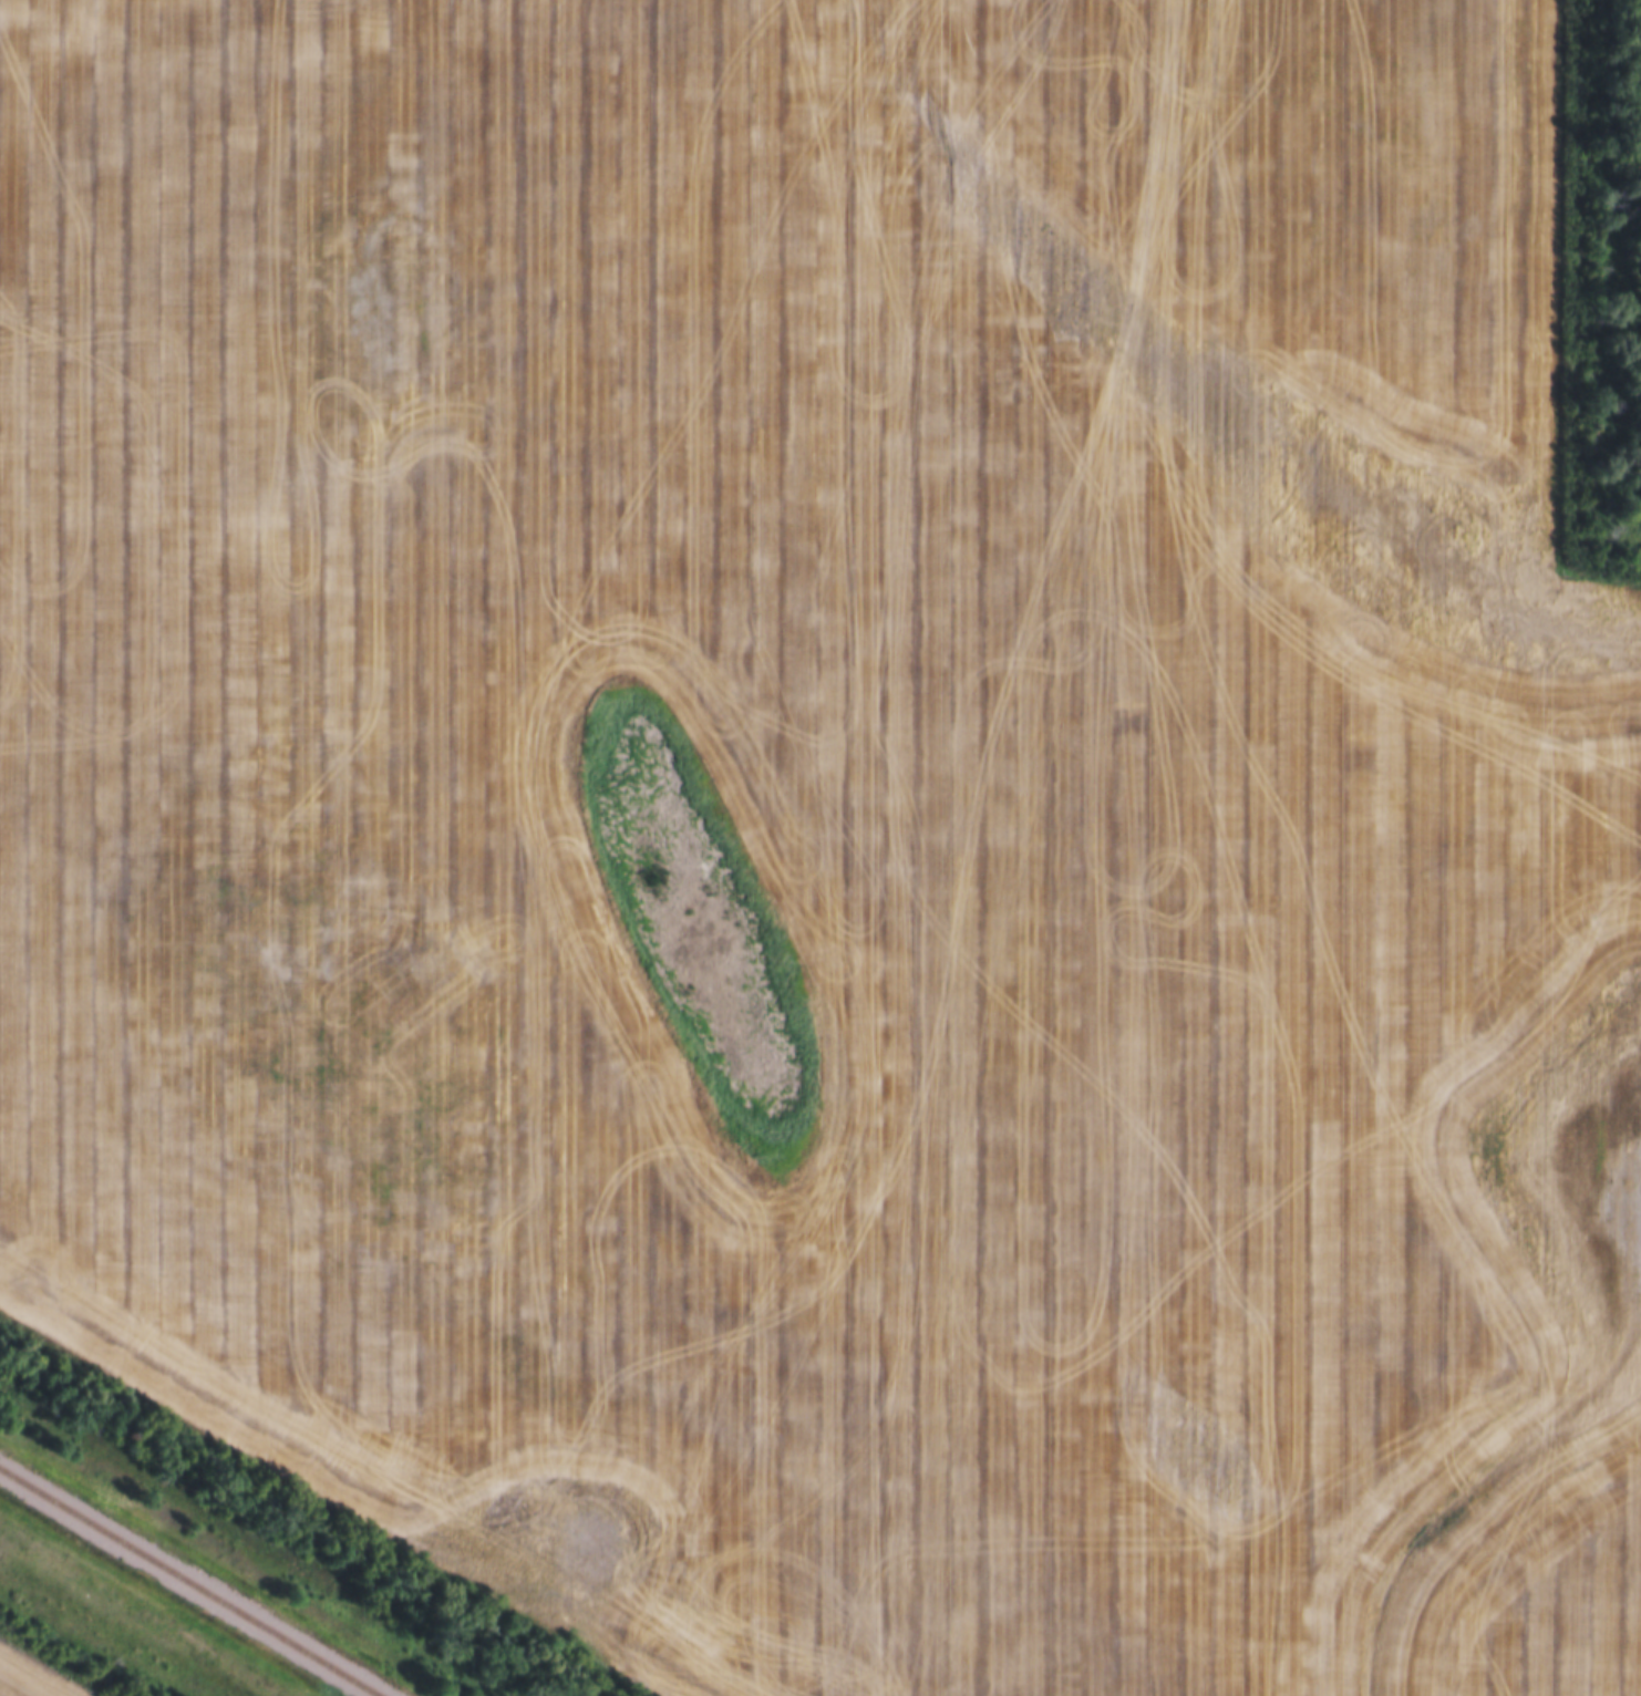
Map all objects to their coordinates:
road: (1242, 267)
railway: (188, 1582)

